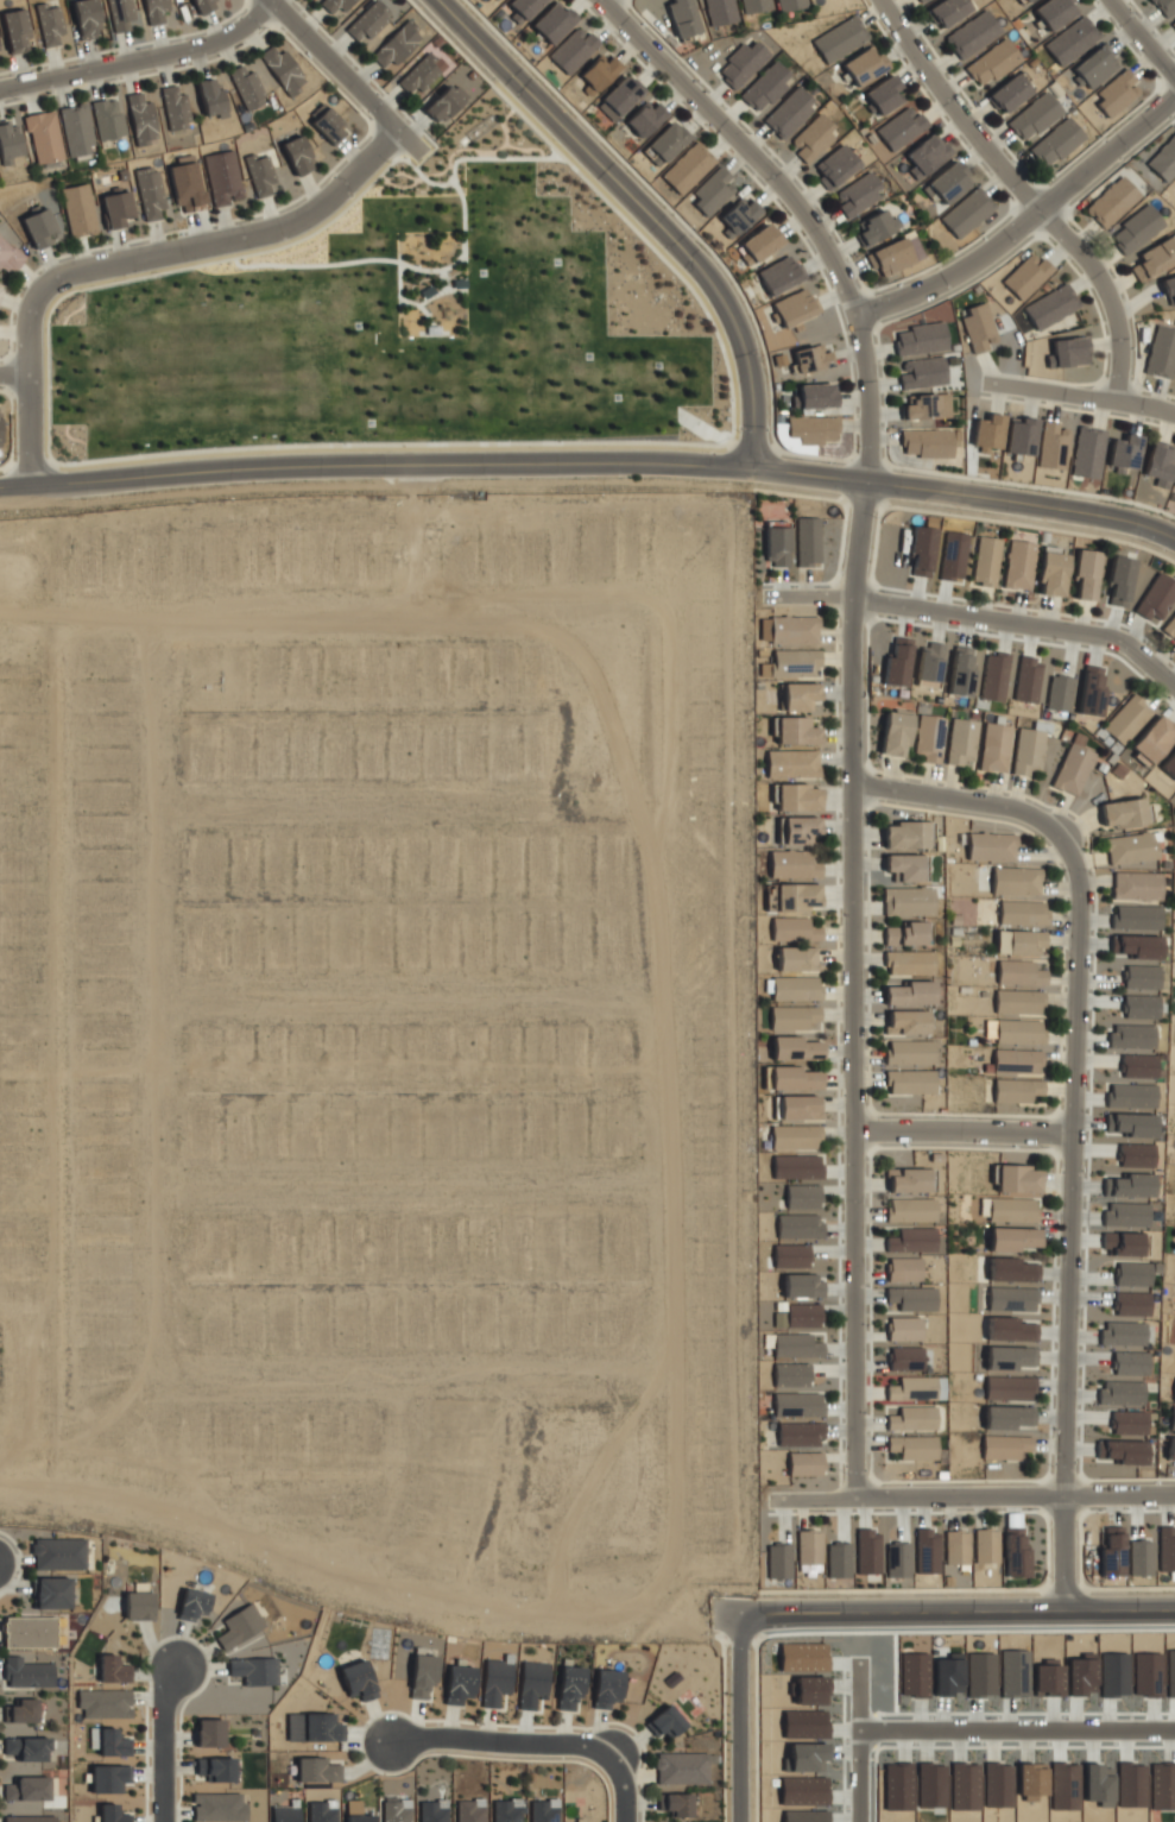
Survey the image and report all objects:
building: (918, 0)
building: (1026, 0)
road: (600, 1)
building: (334, 4)
building: (790, 4)
building: (202, 5)
building: (754, 5)
building: (1164, 6)
building: (524, 7)
building: (154, 11)
building: (720, 12)
building: (947, 12)
building: (120, 13)
building: (1053, 13)
building: (87, 18)
building: (683, 18)
building: (50, 23)
building: (554, 23)
building: (1173, 23)
building: (371, 25)
building: (17, 30)
building: (973, 36)
building: (841, 38)
building: (1072, 40)
road: (1139, 40)
building: (397, 45)
building: (574, 51)
road: (140, 59)
building: (744, 64)
building: (992, 64)
building: (864, 65)
building: (1095, 67)
building: (283, 69)
building: (421, 74)
building: (601, 74)
road: (342, 77)
building: (247, 86)
building: (767, 88)
building: (1114, 92)
building: (1007, 94)
building: (882, 95)
building: (211, 97)
building: (620, 99)
building: (444, 102)
building: (175, 107)
building: (790, 113)
building: (1035, 116)
building: (107, 118)
building: (141, 118)
building: (645, 119)
building: (329, 126)
building: (902, 128)
building: (77, 130)
building: (44, 138)
building: (814, 139)
building: (8, 143)
building: (667, 143)
building: (1056, 143)
building: (927, 153)
building: (298, 156)
road: (512, 157)
building: (1164, 160)
building: (835, 166)
building: (261, 175)
building: (223, 178)
building: (700, 179)
building: (949, 182)
building: (185, 187)
building: (151, 194)
road: (1022, 194)
building: (859, 195)
building: (1112, 202)
road: (796, 208)
building: (78, 209)
building: (118, 209)
road: (642, 209)
building: (967, 213)
building: (739, 216)
road: (1023, 221)
building: (876, 226)
building: (38, 227)
building: (1135, 229)
building: (760, 242)
building: (890, 257)
building: (7, 258)
building: (1154, 258)
road: (134, 260)
road: (419, 267)
building: (781, 275)
building: (1028, 276)
building: (459, 283)
building: (1169, 289)
building: (427, 290)
road: (441, 291)
road: (400, 301)
building: (796, 305)
building: (1051, 307)
park: (404, 326)
building: (979, 327)
building: (431, 329)
building: (920, 339)
building: (1068, 352)
building: (1162, 353)
building: (811, 358)
building: (921, 373)
road: (12, 374)
building: (815, 396)
road: (1079, 397)
building: (927, 408)
building: (813, 431)
building: (988, 433)
building: (1021, 436)
building: (926, 443)
building: (1053, 445)
building: (1088, 453)
building: (1124, 453)
road: (590, 464)
building: (1160, 464)
building: (808, 542)
building: (776, 548)
building: (922, 550)
building: (953, 555)
building: (986, 561)
building: (1019, 565)
building: (1053, 570)
building: (1087, 575)
building: (1119, 580)
building: (1156, 599)
road: (978, 618)
building: (1169, 626)
building: (795, 629)
building: (794, 663)
building: (896, 663)
building: (928, 664)
building: (960, 670)
building: (993, 676)
building: (1026, 679)
building: (1091, 689)
building: (1059, 693)
building: (801, 696)
building: (1129, 719)
building: (795, 730)
building: (897, 732)
building: (929, 738)
building: (1152, 740)
building: (962, 742)
building: (994, 746)
building: (1028, 752)
building: (794, 764)
building: (1170, 767)
building: (1074, 769)
building: (1174, 795)
building: (797, 797)
road: (956, 800)
building: (1124, 813)
building: (798, 830)
building: (908, 834)
building: (991, 846)
building: (1131, 849)
building: (794, 865)
building: (908, 866)
building: (1016, 881)
building: (1136, 887)
building: (798, 896)
building: (908, 901)
building: (1023, 913)
building: (1136, 918)
building: (795, 929)
building: (908, 932)
building: (1022, 941)
building: (1135, 946)
building: (798, 958)
building: (908, 963)
building: (1019, 972)
building: (1142, 976)
building: (797, 988)
road: (851, 989)
building: (908, 992)
building: (1019, 1003)
building: (1141, 1007)
building: (797, 1017)
building: (905, 1021)
building: (1019, 1032)
building: (1131, 1036)
building: (798, 1047)
building: (909, 1052)
building: (1018, 1061)
building: (1138, 1066)
building: (794, 1078)
building: (909, 1082)
building: (1016, 1090)
building: (1130, 1095)
building: (798, 1108)
building: (1133, 1123)
road: (960, 1130)
building: (796, 1136)
building: (1136, 1158)
building: (797, 1166)
building: (1017, 1178)
building: (910, 1179)
building: (1131, 1185)
building: (804, 1196)
building: (910, 1209)
building: (1013, 1210)
building: (1125, 1213)
road: (1066, 1216)
building: (800, 1225)
building: (912, 1240)
building: (1015, 1240)
building: (1122, 1242)
building: (792, 1256)
building: (904, 1269)
building: (1012, 1269)
building: (1132, 1276)
building: (803, 1286)
building: (910, 1298)
building: (1012, 1298)
building: (1131, 1303)
building: (798, 1317)
building: (904, 1329)
building: (1011, 1329)
building: (1122, 1332)
building: (797, 1347)
building: (1010, 1357)
building: (905, 1358)
building: (1130, 1362)
building: (792, 1375)
building: (1009, 1387)
building: (916, 1388)
building: (1120, 1392)
building: (1174, 1393)
building: (800, 1406)
building: (1007, 1417)
building: (914, 1419)
building: (1129, 1421)
building: (1173, 1421)
building: (801, 1435)
building: (1005, 1445)
building: (914, 1448)
building: (1170, 1448)
building: (1124, 1451)
building: (806, 1463)
road: (972, 1498)
building: (986, 1545)
building: (956, 1547)
building: (809, 1549)
building: (1167, 1549)
building: (927, 1550)
building: (870, 1551)
building: (1015, 1551)
building: (1112, 1551)
building: (56, 1553)
building: (1141, 1557)
building: (898, 1559)
building: (839, 1561)
building: (779, 1562)
road: (347, 1581)
building: (51, 1593)
building: (192, 1603)
building: (138, 1605)
road: (939, 1608)
building: (239, 1626)
building: (27, 1632)
building: (113, 1669)
building: (253, 1670)
building: (25, 1672)
building: (422, 1675)
building: (358, 1679)
building: (495, 1681)
building: (459, 1683)
building: (532, 1683)
building: (569, 1685)
building: (606, 1688)
building: (105, 1703)
building: (23, 1710)
road: (739, 1717)
building: (665, 1720)
building: (314, 1727)
road: (722, 1727)
building: (209, 1732)
road: (1015, 1732)
building: (108, 1741)
road: (504, 1742)
road: (163, 1744)
road: (854, 1745)
building: (26, 1747)
building: (682, 1767)
building: (217, 1769)
building: (316, 1770)
building: (109, 1778)
building: (26, 1788)
road: (623, 1788)
building: (677, 1803)
building: (217, 1807)
building: (432, 1810)
building: (469, 1810)
building: (506, 1810)
building: (543, 1810)
building: (322, 1811)
building: (284, 1812)
building: (356, 1812)
building: (112, 1814)
building: (29, 1818)

